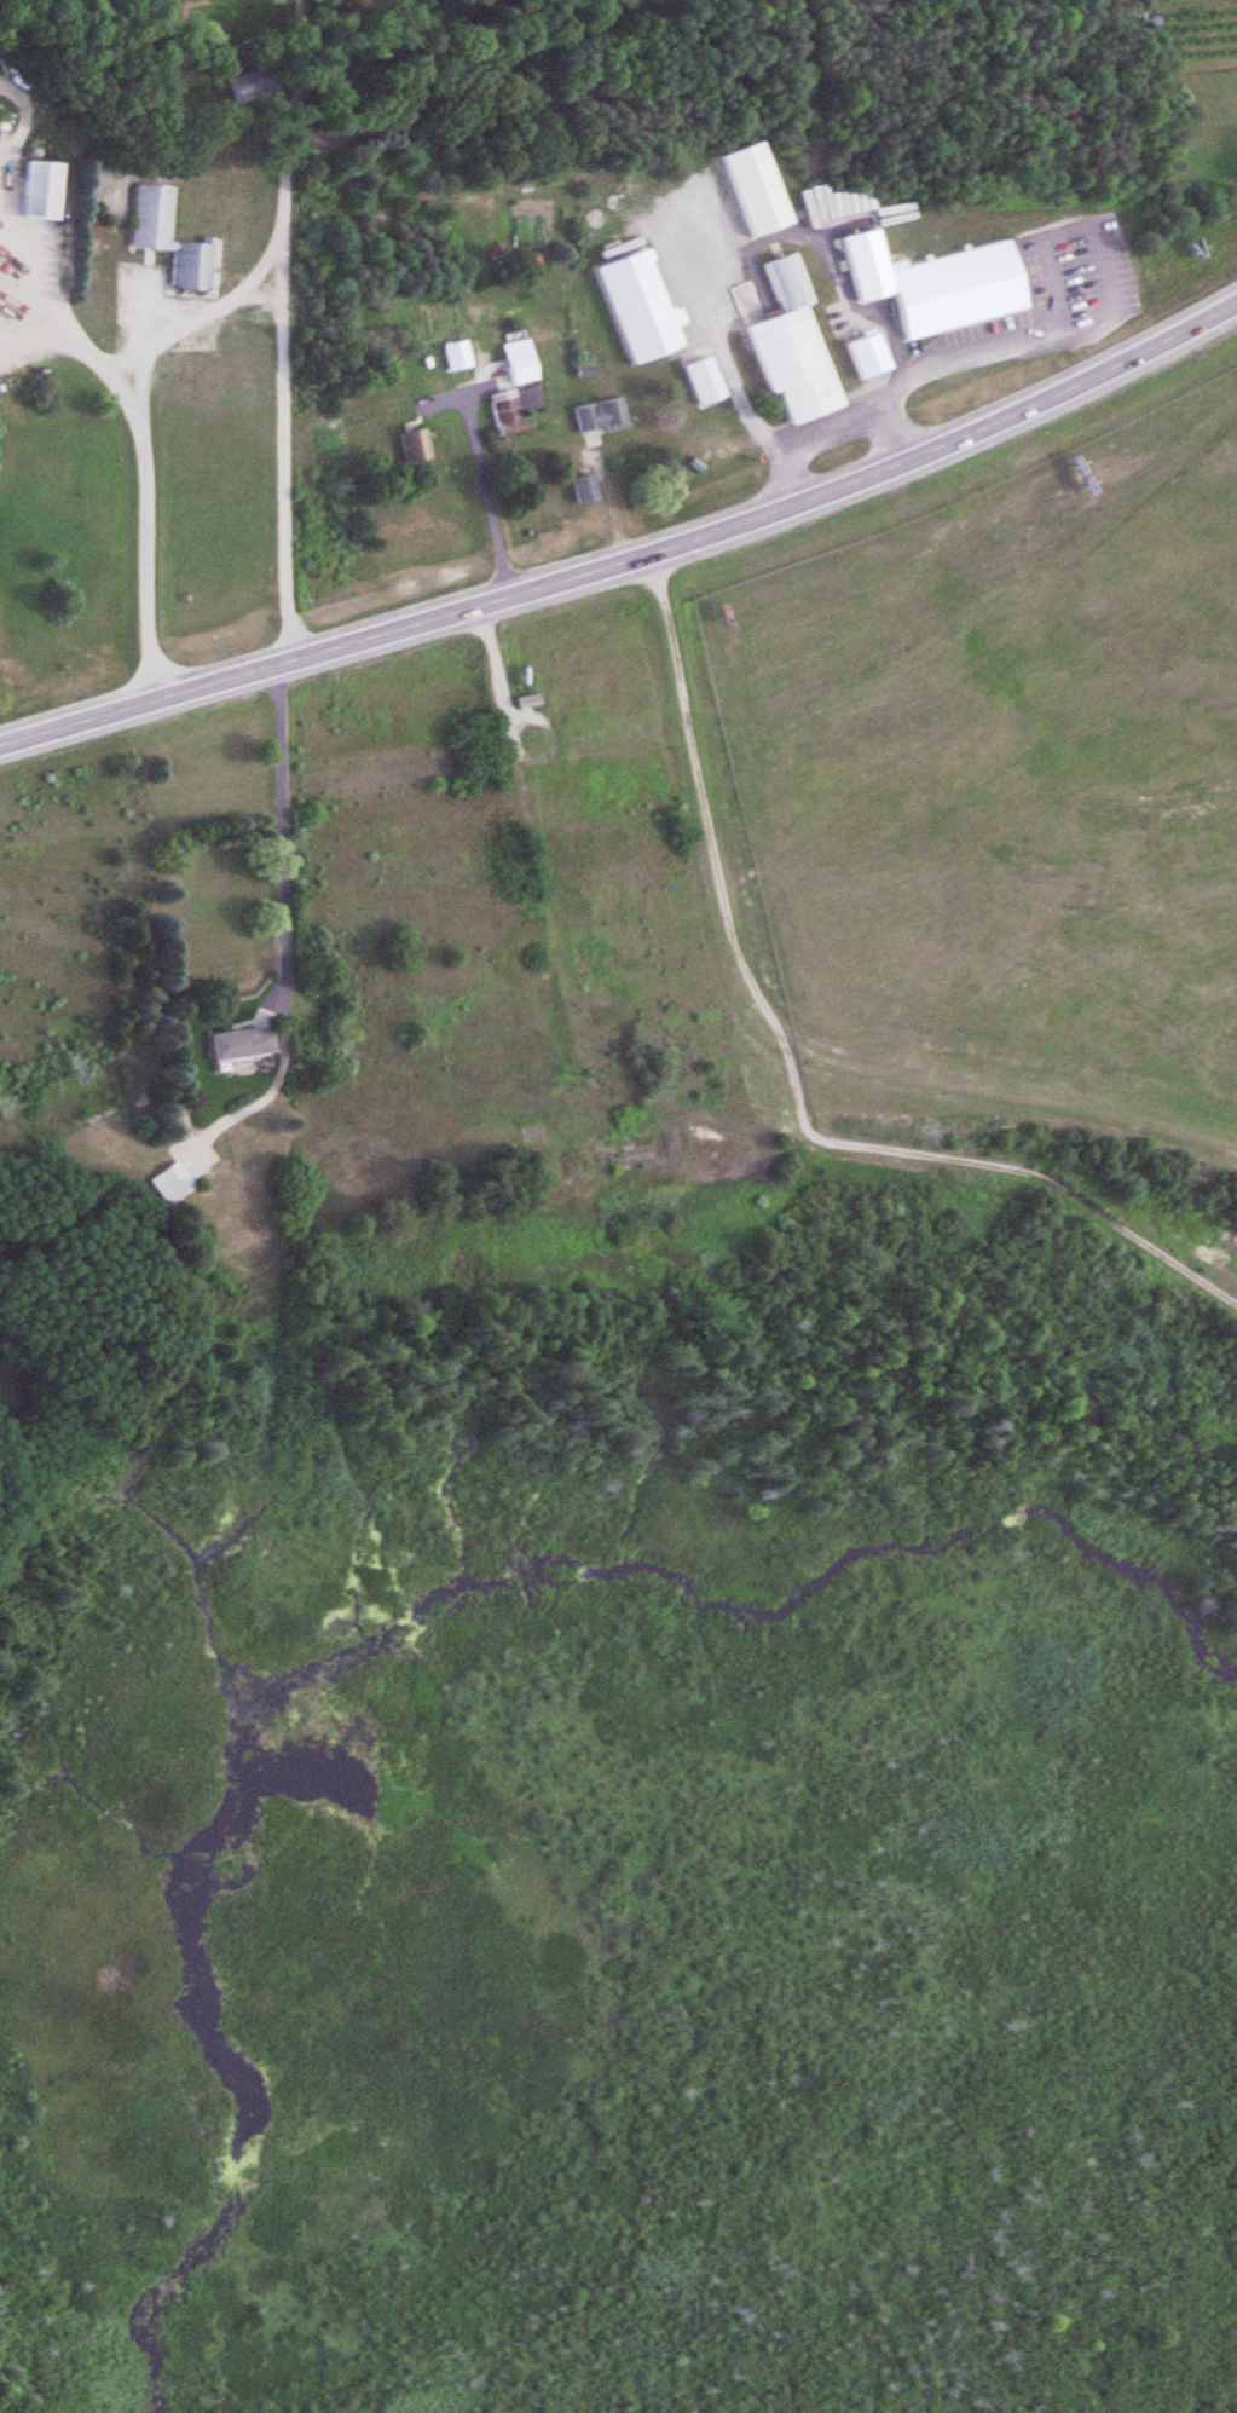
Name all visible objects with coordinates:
building: (244, 83)
building: (751, 190)
building: (36, 191)
building: (166, 238)
building: (933, 285)
building: (788, 347)
building: (453, 357)
building: (863, 357)
building: (515, 363)
building: (699, 382)
building: (508, 411)
building: (597, 418)
building: (411, 446)
road: (127, 481)
building: (580, 489)
road: (632, 561)
airport: (1010, 770)
building: (233, 1046)
road: (791, 1072)
building: (167, 1184)

